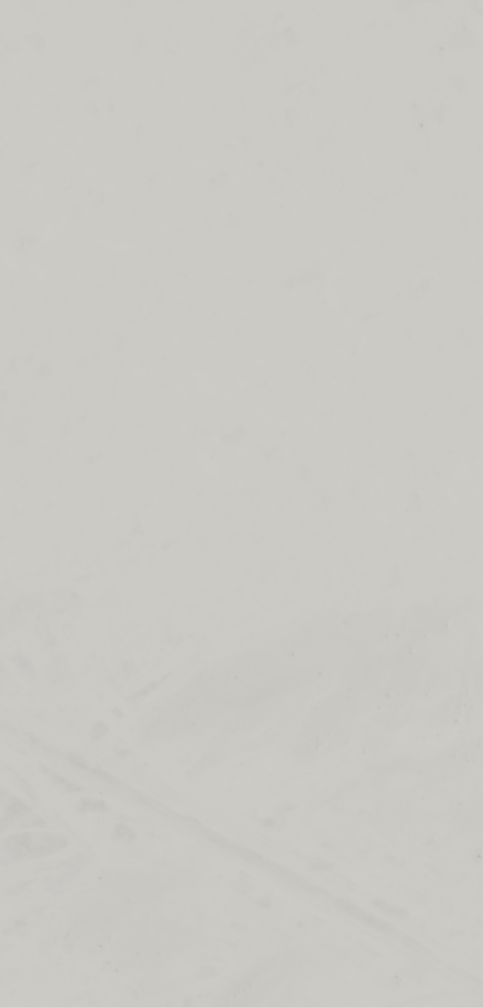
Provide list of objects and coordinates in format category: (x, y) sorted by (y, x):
building: (423, 50)
building: (40, 116)
building: (465, 200)
building: (362, 330)
building: (446, 434)

